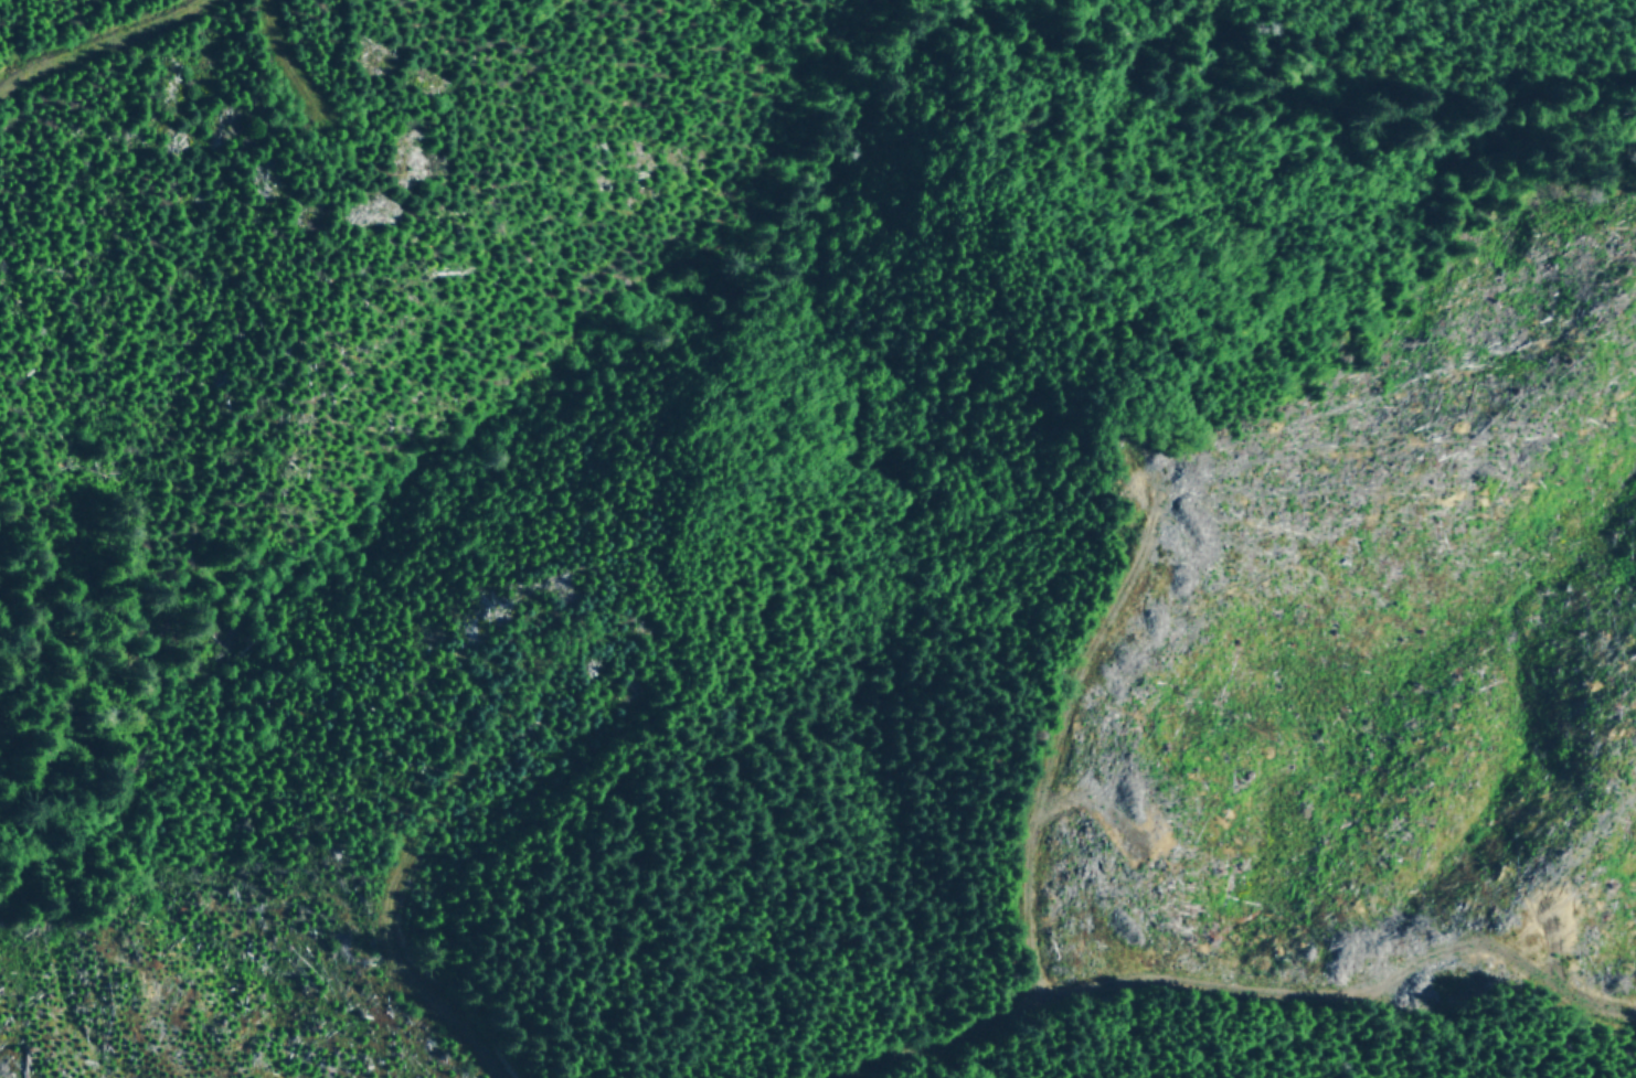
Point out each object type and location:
road: (98, 45)
road: (1058, 793)
road: (1190, 990)
road: (450, 1033)
road: (968, 1059)

